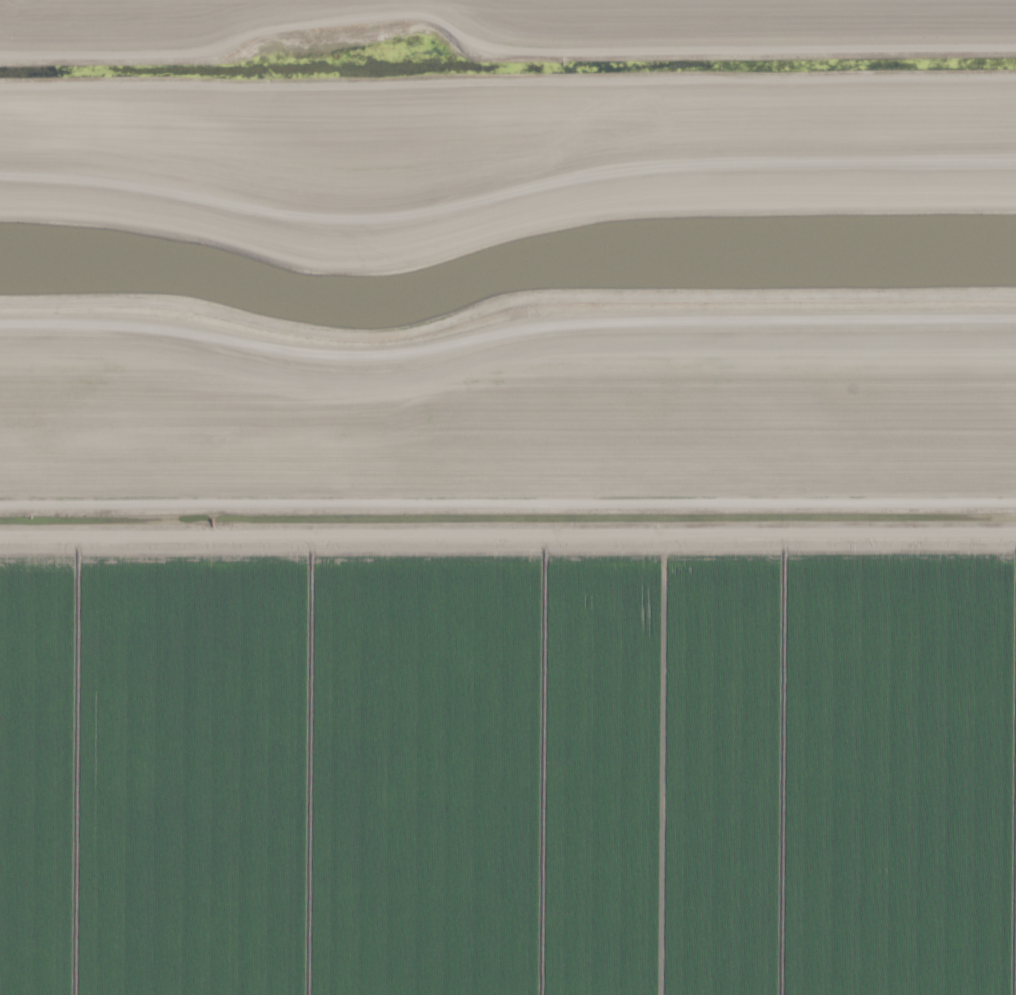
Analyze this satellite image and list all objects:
crop: (497, 26)
road: (505, 195)
river: (504, 258)
road: (503, 308)

